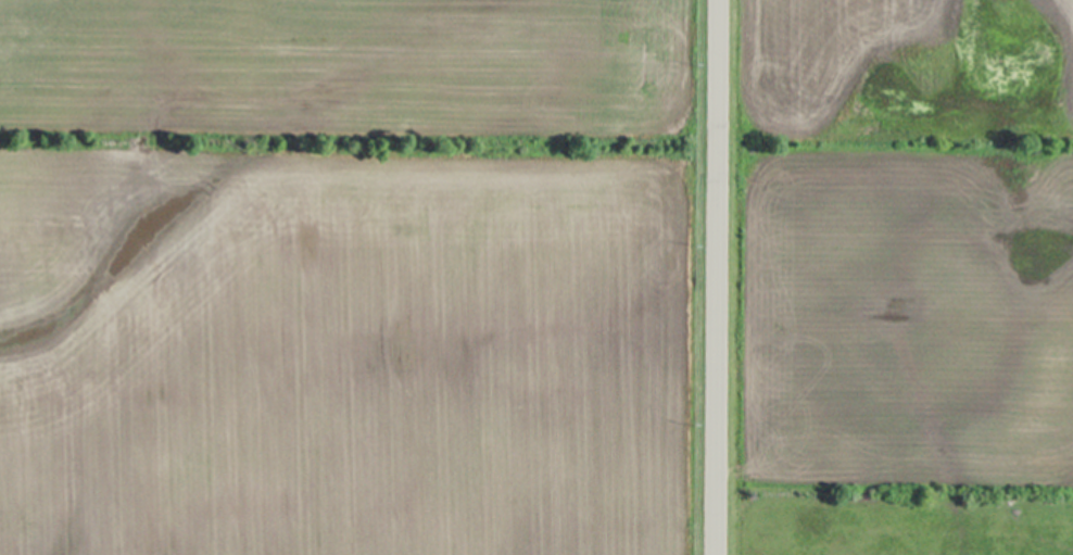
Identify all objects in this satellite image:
road: (720, 277)

